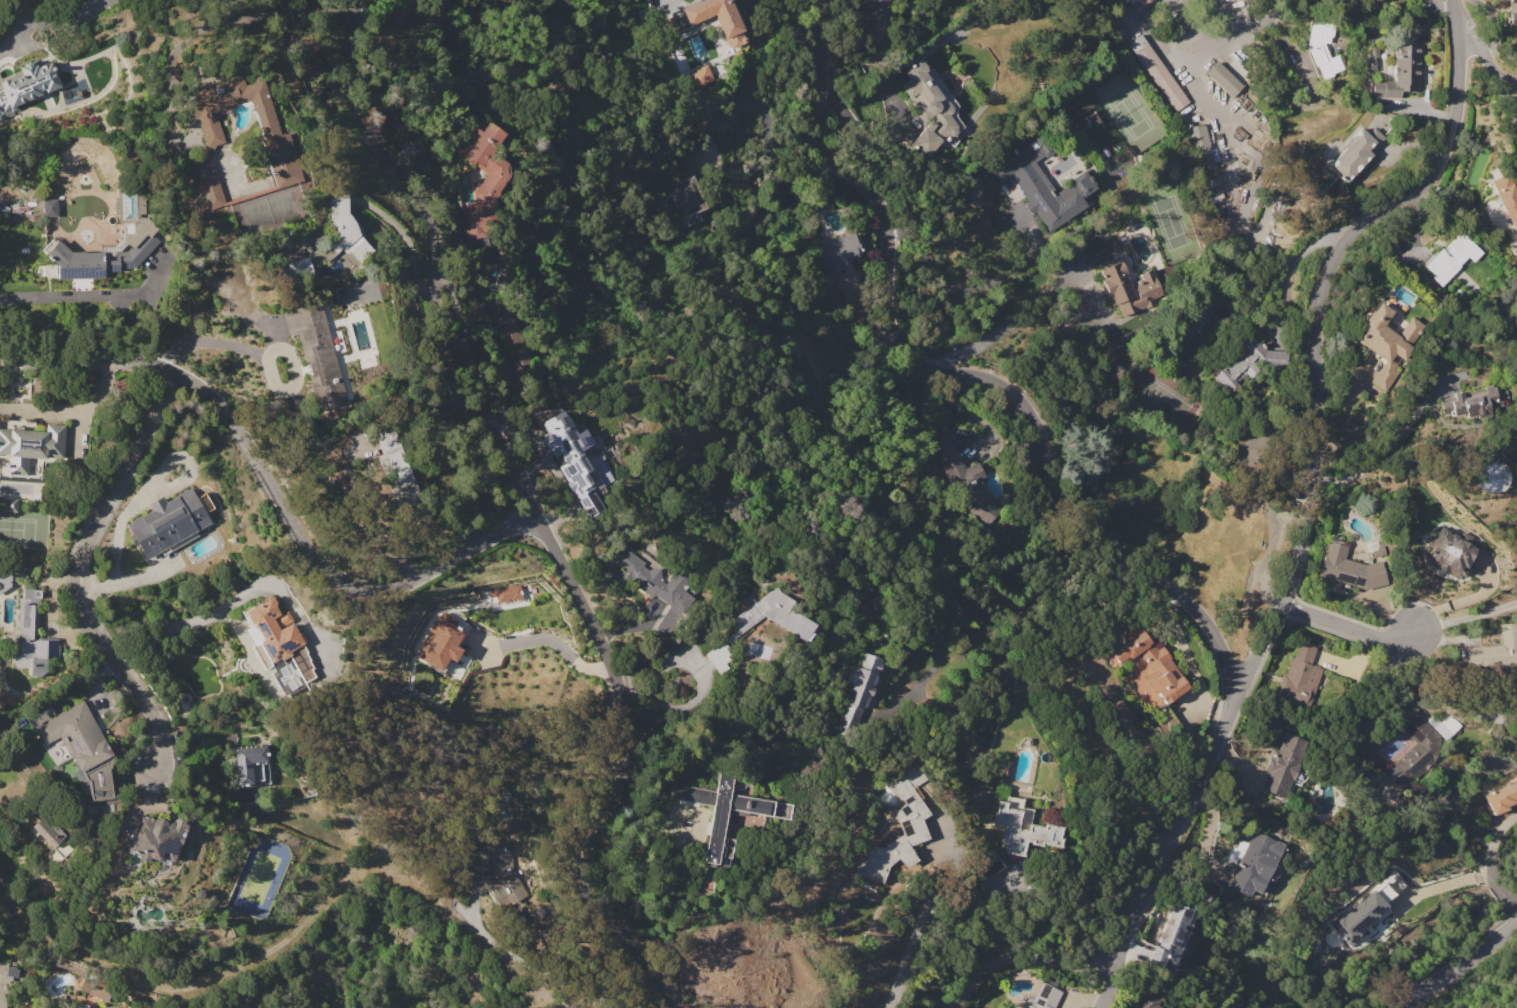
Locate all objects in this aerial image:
building: (1138, 3)
road: (1279, 5)
building: (1512, 13)
building: (717, 18)
road: (1226, 18)
building: (878, 25)
road: (1190, 25)
road: (1154, 27)
road: (55, 30)
road: (1231, 36)
building: (1321, 49)
building: (1370, 59)
road: (1486, 61)
building: (1157, 72)
building: (1401, 73)
building: (700, 76)
building: (1224, 80)
building: (27, 85)
road: (1511, 85)
road: (1213, 99)
building: (927, 109)
road: (763, 127)
building: (276, 143)
building: (1200, 148)
building: (1356, 153)
road: (1228, 158)
building: (485, 180)
building: (1043, 186)
building: (1211, 186)
building: (688, 200)
building: (50, 207)
building: (1507, 211)
building: (345, 226)
building: (840, 252)
building: (1452, 258)
building: (97, 259)
road: (435, 259)
road: (1289, 269)
building: (295, 271)
building: (1127, 283)
road: (970, 286)
road: (93, 296)
road: (1017, 320)
building: (508, 333)
building: (1387, 343)
building: (317, 348)
road: (263, 356)
building: (1250, 363)
road: (961, 373)
building: (1473, 402)
road: (1345, 408)
road: (1395, 442)
building: (30, 446)
building: (1246, 455)
building: (572, 460)
building: (397, 470)
building: (1490, 476)
building: (965, 481)
road: (272, 489)
building: (11, 505)
building: (167, 524)
road: (354, 527)
building: (1448, 552)
road: (1297, 562)
building: (1348, 569)
road: (82, 572)
building: (5, 581)
building: (652, 584)
building: (507, 593)
road: (1460, 600)
building: (773, 615)
building: (28, 616)
road: (1466, 619)
road: (981, 626)
road: (165, 628)
road: (1348, 630)
road: (549, 639)
building: (440, 645)
building: (278, 646)
building: (1496, 649)
building: (718, 656)
road: (658, 661)
building: (1149, 671)
building: (1300, 675)
road: (1423, 684)
building: (860, 689)
road: (674, 707)
building: (78, 737)
building: (1415, 752)
building: (1284, 765)
building: (251, 766)
road: (612, 771)
building: (1385, 786)
road: (150, 791)
building: (1501, 797)
building: (722, 820)
building: (901, 827)
building: (1023, 827)
building: (51, 835)
building: (157, 838)
road: (1491, 858)
building: (1254, 862)
building: (502, 875)
building: (1383, 891)
road: (930, 896)
building: (1358, 917)
road: (300, 930)
building: (1171, 940)
road: (1457, 964)
road: (1117, 978)
building: (10, 981)
building: (96, 987)
building: (1043, 998)
building: (1149, 1002)
building: (77, 1006)

